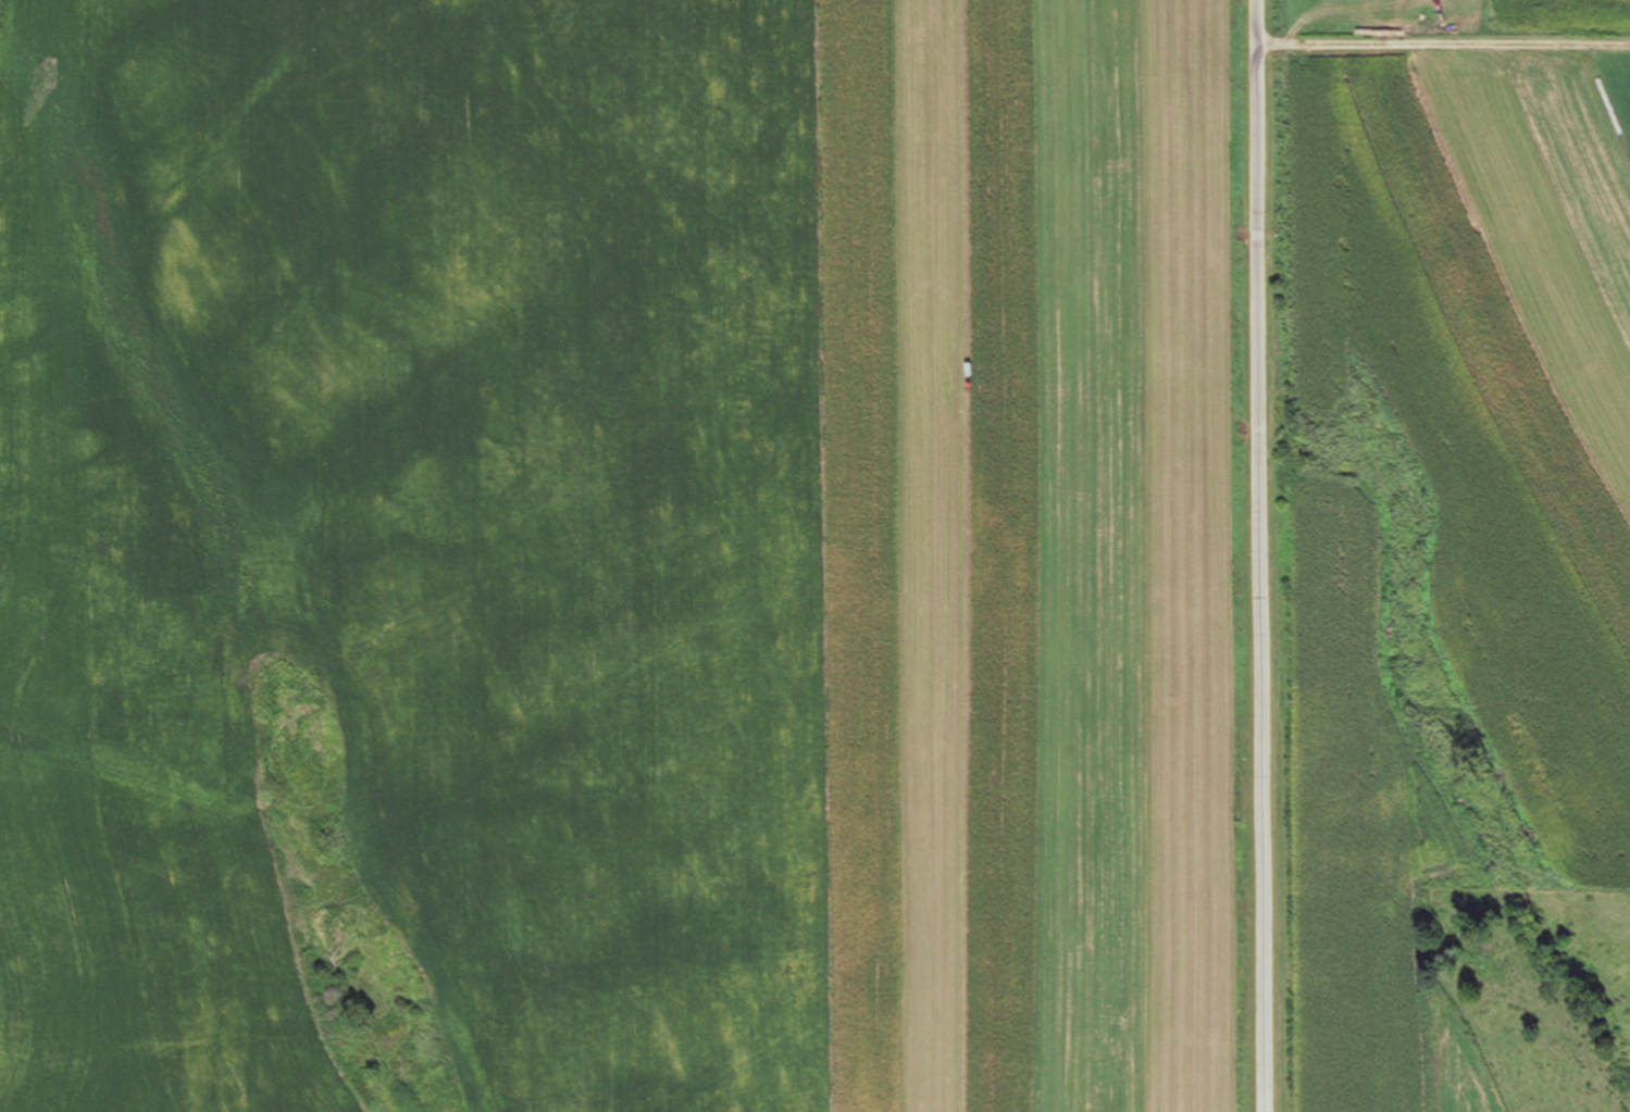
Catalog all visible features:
road: (1271, 555)

